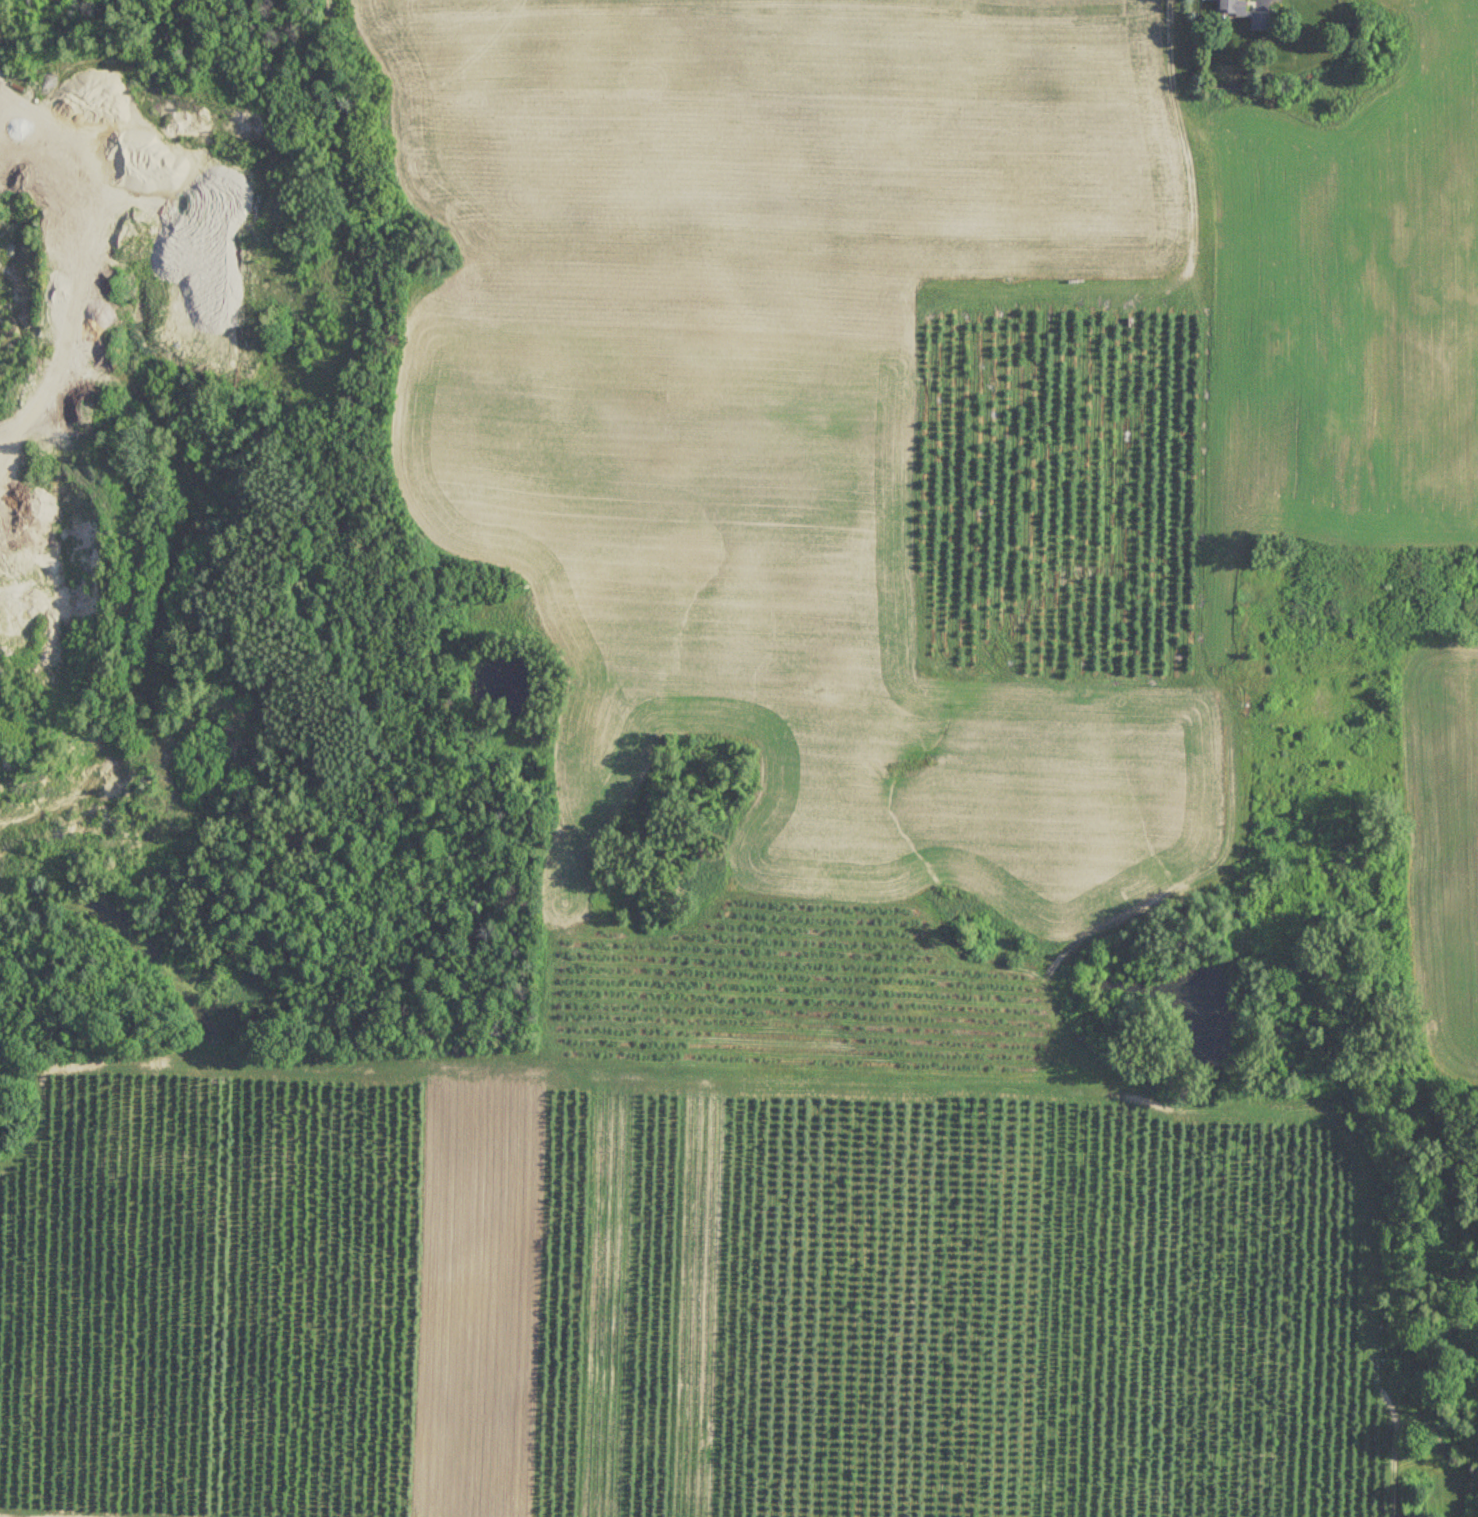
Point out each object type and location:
building: (1246, 14)
road: (36, 221)
quarry: (233, 577)
road: (120, 1511)

